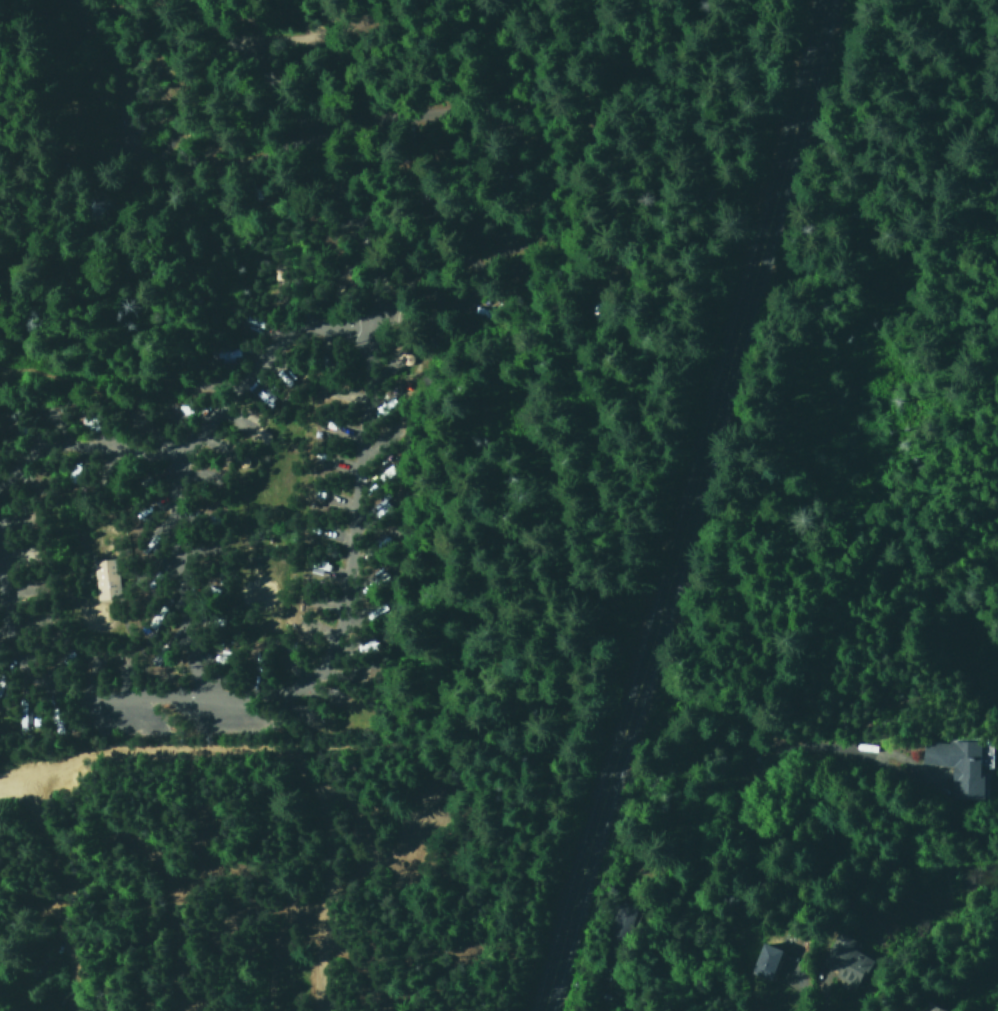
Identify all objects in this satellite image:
road: (287, 30)
road: (122, 103)
road: (306, 152)
road: (505, 160)
road: (142, 190)
road: (195, 424)
road: (672, 504)
building: (104, 578)
road: (172, 579)
building: (368, 608)
road: (347, 634)
road: (31, 658)
parking lot: (184, 714)
building: (956, 766)
building: (843, 959)
building: (762, 961)
building: (933, 1008)

